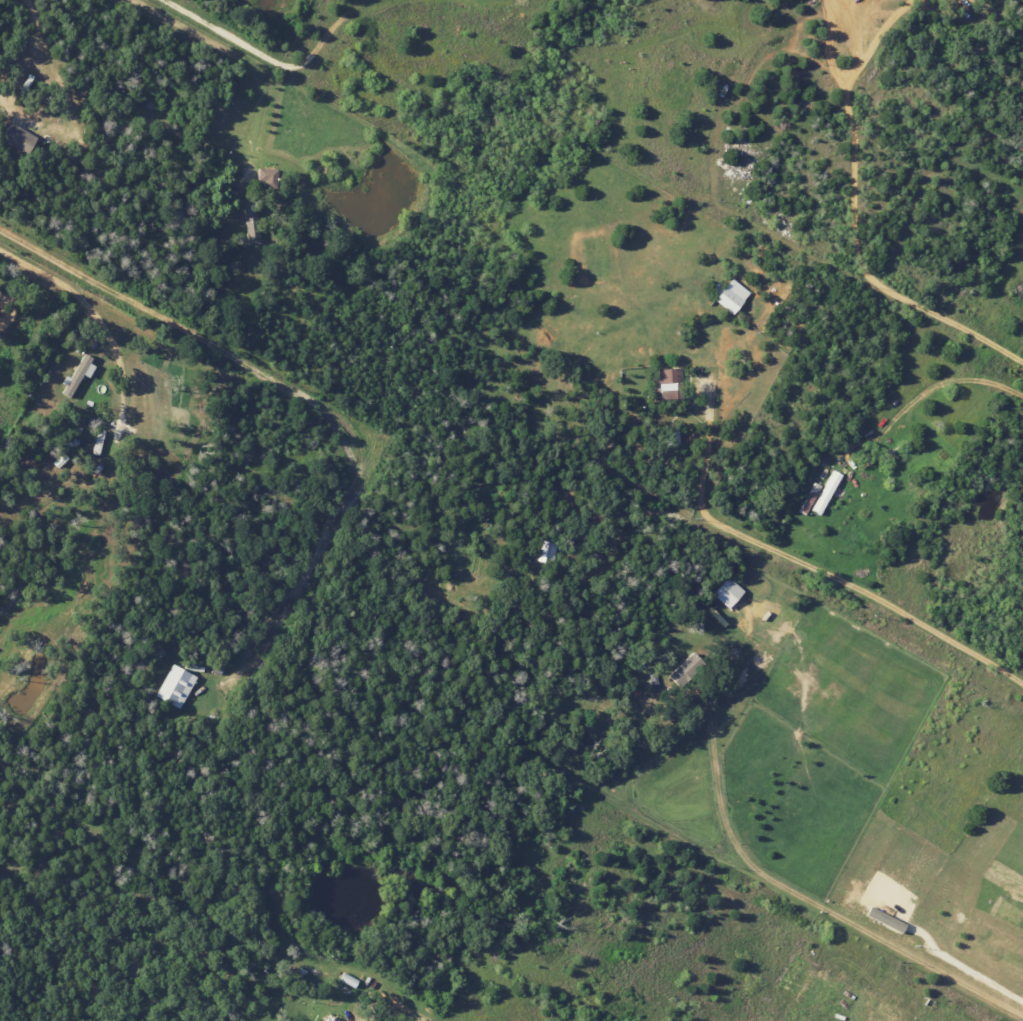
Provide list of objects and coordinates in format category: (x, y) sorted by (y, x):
road: (847, 15)
road: (270, 59)
building: (16, 138)
building: (262, 177)
building: (249, 214)
road: (849, 229)
building: (252, 235)
building: (730, 296)
road: (94, 313)
building: (78, 374)
building: (668, 383)
road: (306, 399)
building: (672, 438)
building: (97, 442)
road: (705, 462)
building: (826, 492)
building: (549, 552)
building: (727, 592)
road: (865, 595)
building: (685, 669)
building: (176, 687)
road: (813, 906)
road: (373, 988)
road: (402, 1018)
road: (415, 1018)

